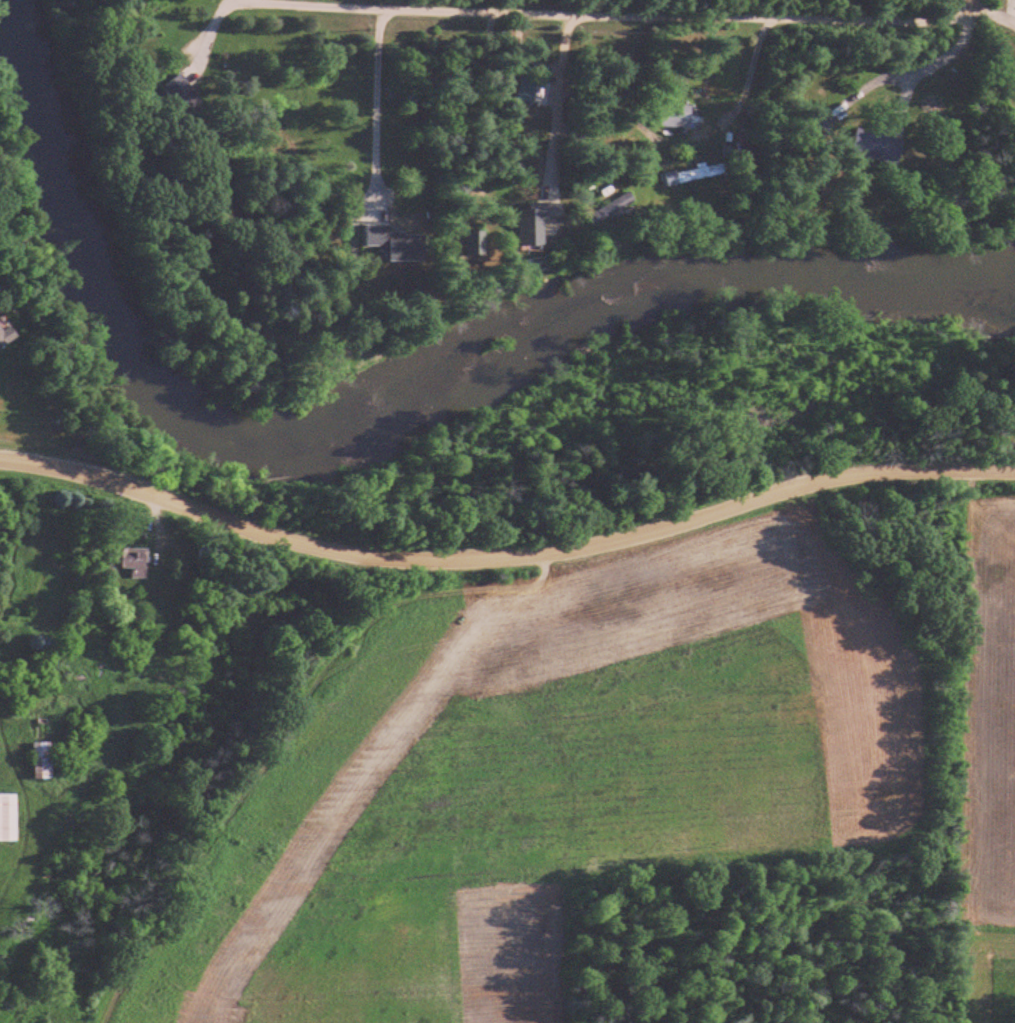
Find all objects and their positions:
road: (615, 12)
road: (750, 74)
building: (185, 99)
road: (558, 102)
road: (375, 108)
building: (676, 116)
building: (880, 145)
building: (692, 174)
building: (609, 210)
building: (538, 221)
building: (475, 243)
building: (395, 244)
building: (9, 336)
river: (381, 425)
road: (505, 559)
building: (138, 560)
building: (89, 636)
building: (29, 694)
building: (45, 761)
building: (9, 819)

